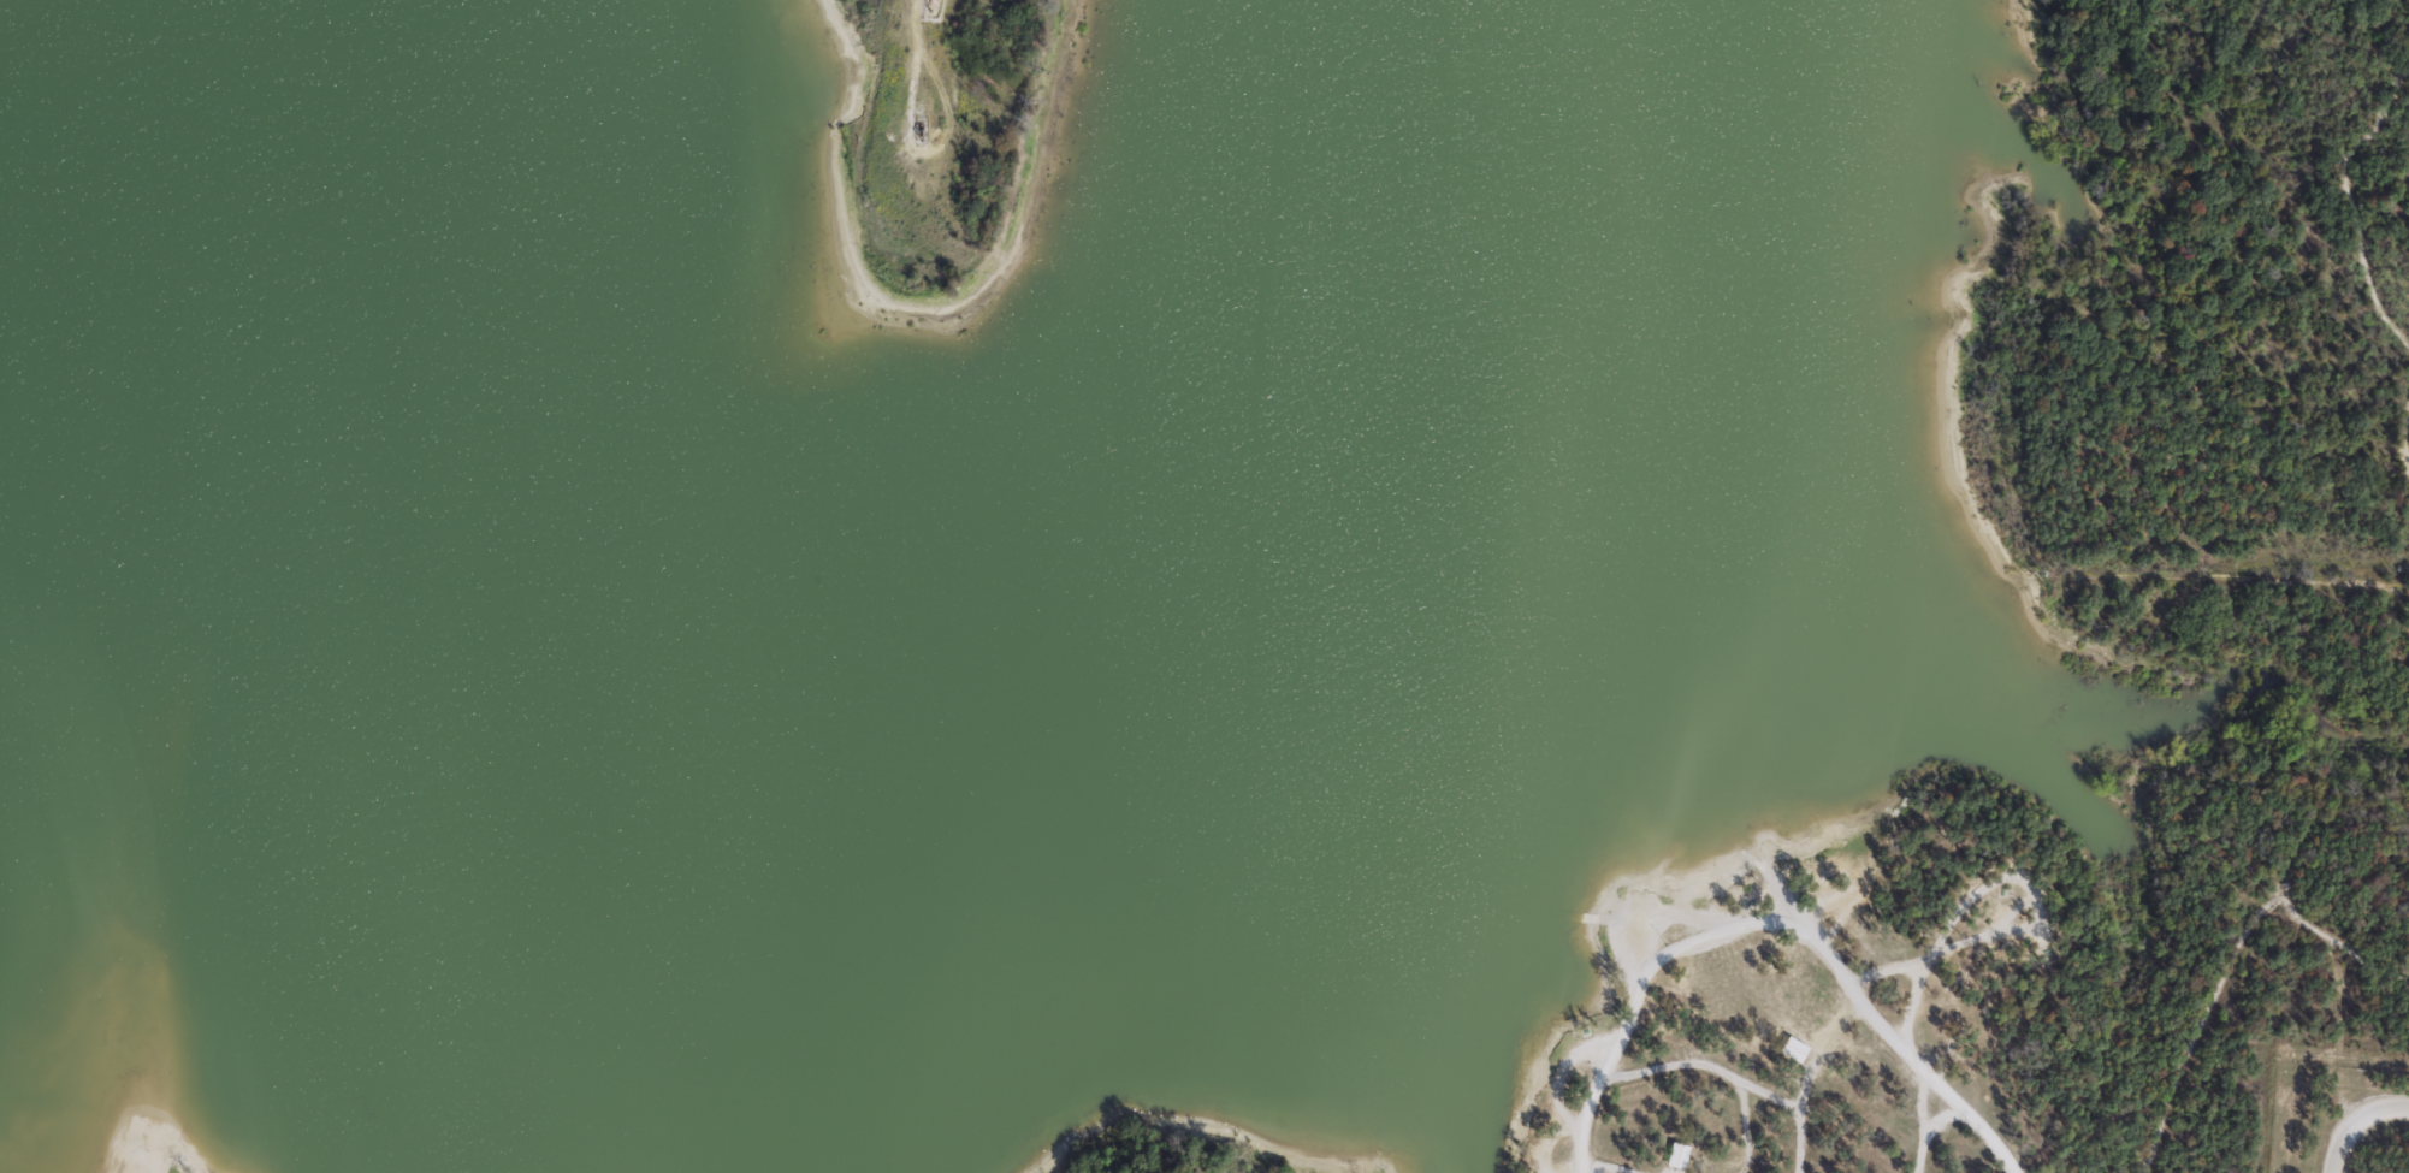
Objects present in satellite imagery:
road: (2351, 201)
road: (2404, 433)
road: (2297, 587)
park: (2102, 676)
road: (1764, 932)
road: (2233, 954)
building: (1793, 1048)
road: (1717, 1072)
road: (1919, 1121)
road: (2354, 1122)
park: (160, 1136)
park: (1196, 1148)
building: (1676, 1154)
road: (162, 1168)

